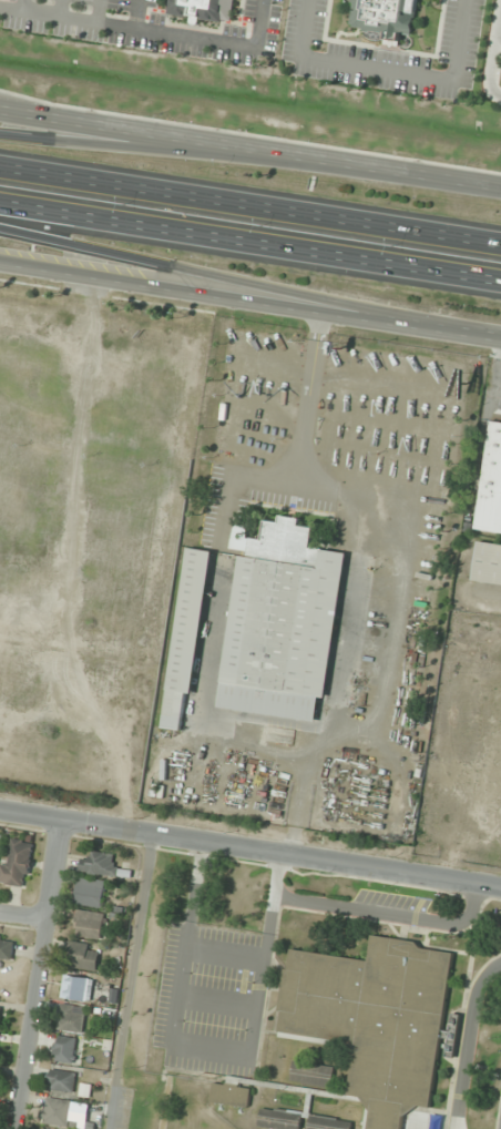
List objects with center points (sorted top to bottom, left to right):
road: (23, 6)
road: (61, 8)
building: (203, 9)
road: (99, 11)
road: (135, 13)
building: (385, 16)
road: (151, 30)
road: (493, 59)
road: (387, 70)
road: (170, 148)
road: (250, 148)
road: (250, 206)
road: (250, 244)
road: (249, 283)
road: (250, 298)
building: (492, 484)
building: (489, 563)
building: (284, 624)
building: (188, 635)
road: (250, 847)
building: (19, 864)
building: (105, 865)
building: (91, 892)
road: (391, 914)
road: (23, 915)
building: (90, 924)
building: (7, 947)
building: (85, 956)
road: (38, 973)
building: (79, 987)
building: (0, 1009)
building: (73, 1019)
building: (377, 1019)
road: (469, 1041)
building: (65, 1048)
road: (209, 1052)
building: (314, 1074)
building: (62, 1080)
building: (232, 1095)
building: (57, 1111)
building: (280, 1119)
building: (329, 1122)

